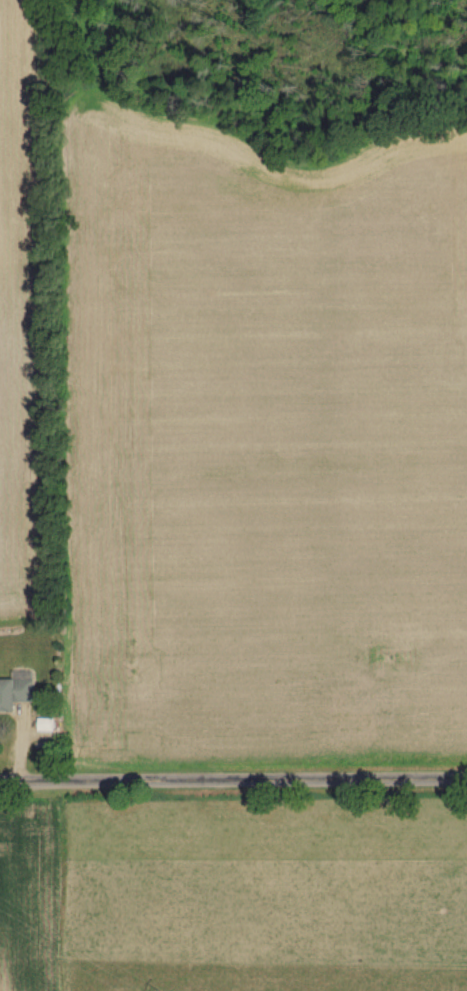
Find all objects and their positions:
building: (16, 694)
road: (233, 772)

